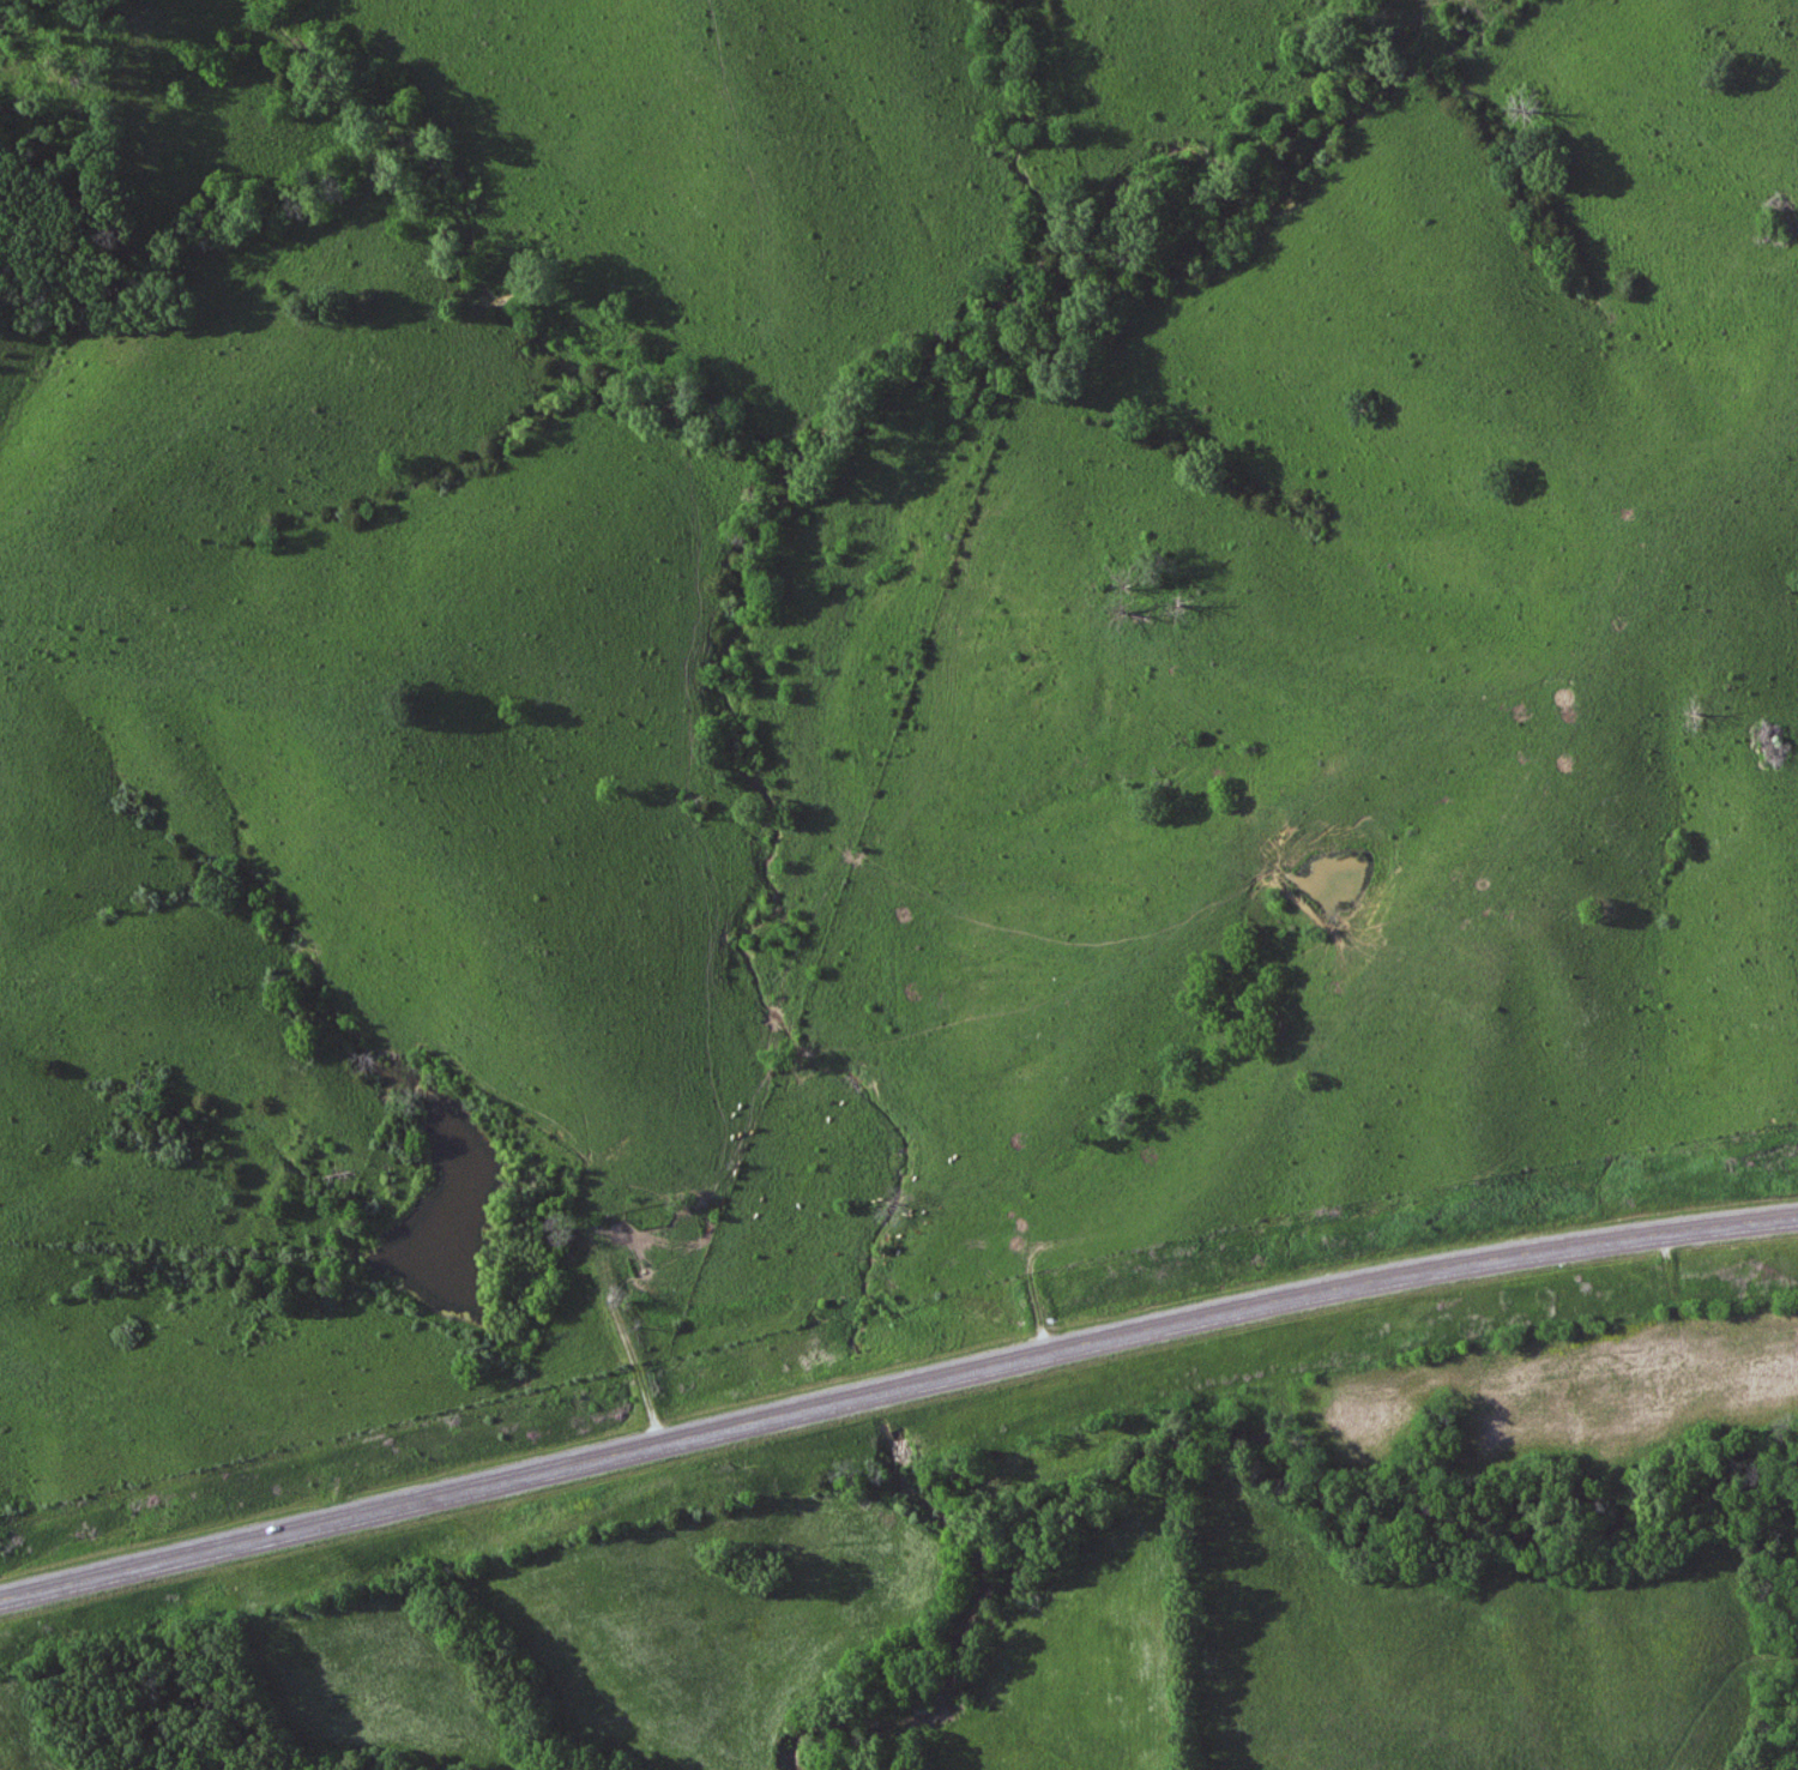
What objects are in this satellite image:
road: (894, 1381)

